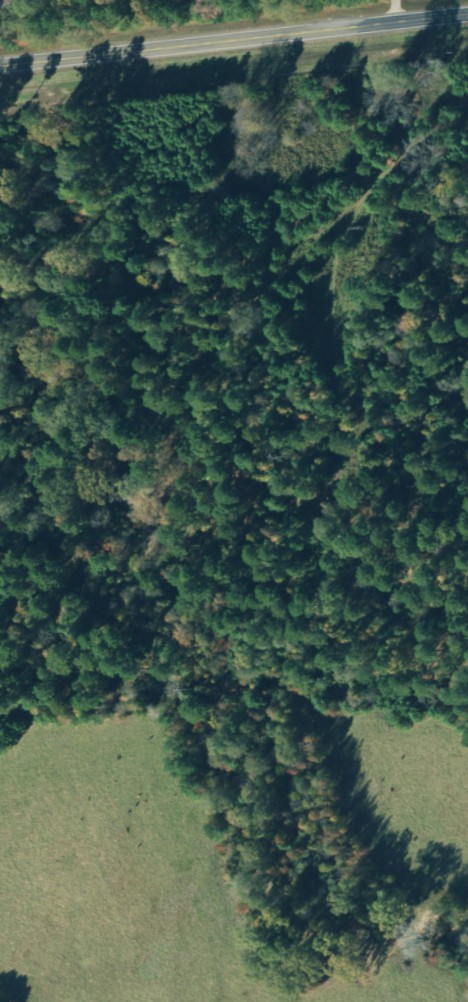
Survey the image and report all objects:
airport: (8, 4)
road: (234, 40)

